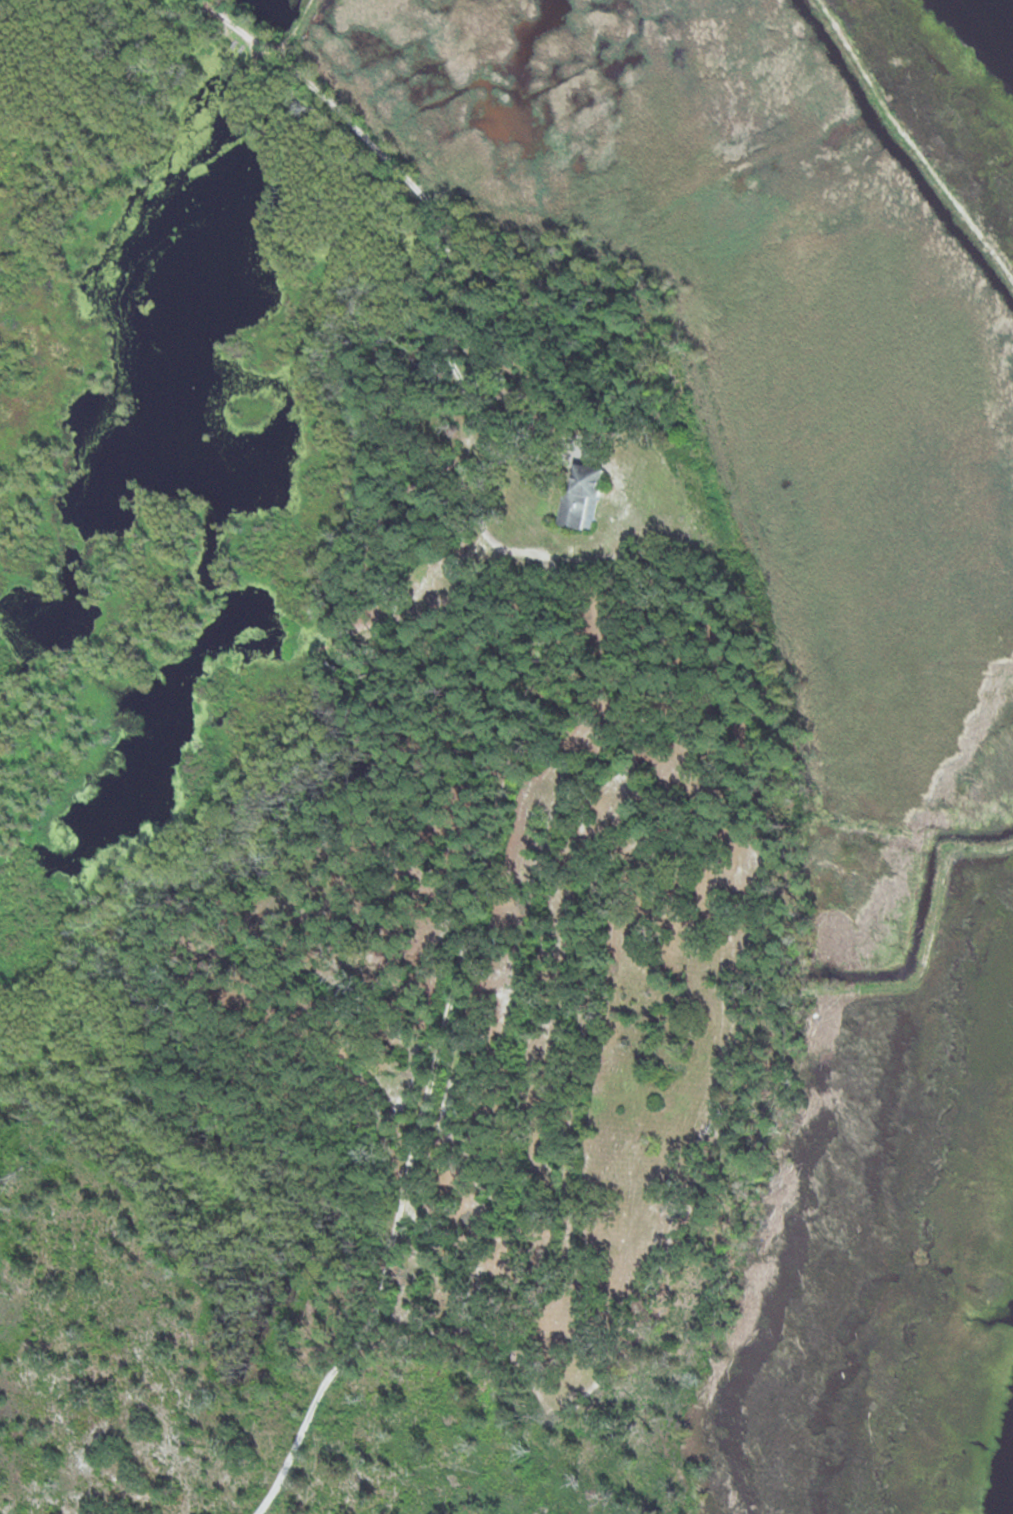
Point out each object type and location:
building: (583, 493)

